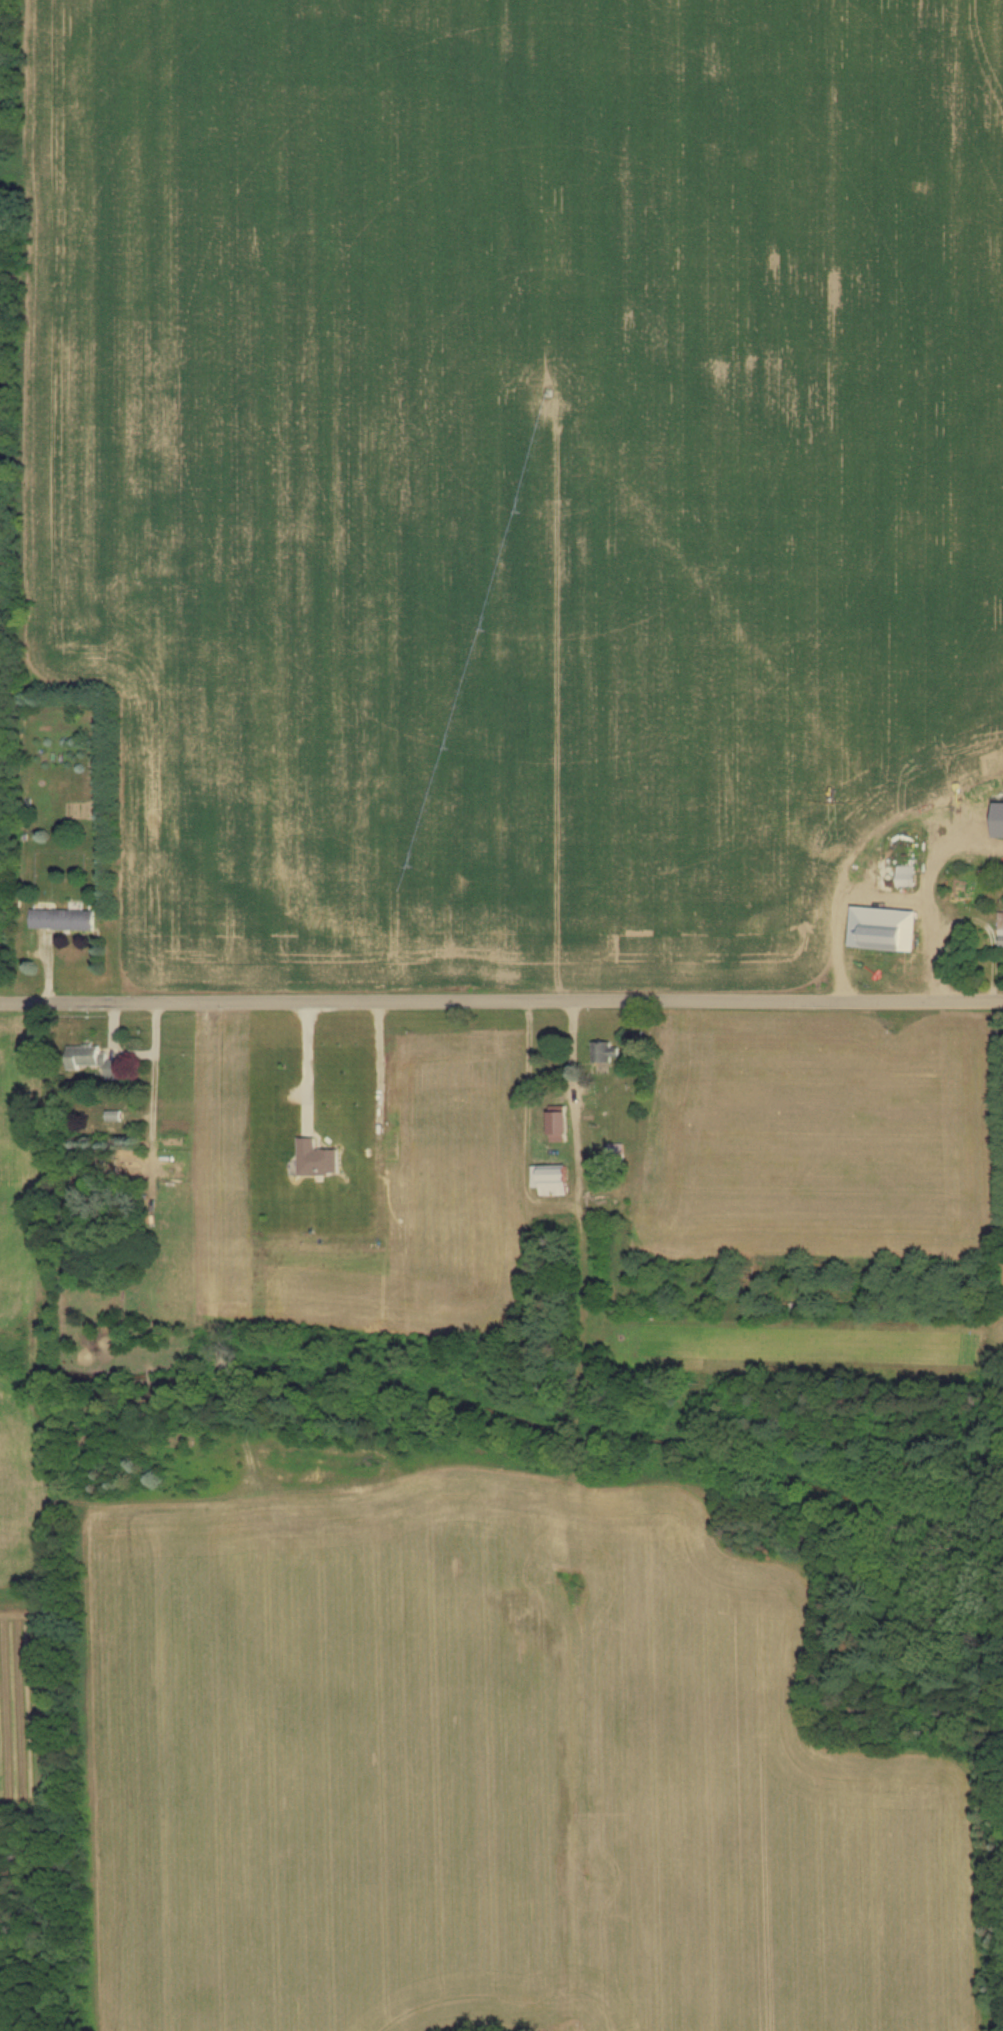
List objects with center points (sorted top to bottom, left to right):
building: (65, 920)
building: (898, 936)
road: (501, 1005)
building: (606, 1053)
road: (307, 1062)
building: (116, 1070)
building: (561, 1123)
building: (552, 1178)

